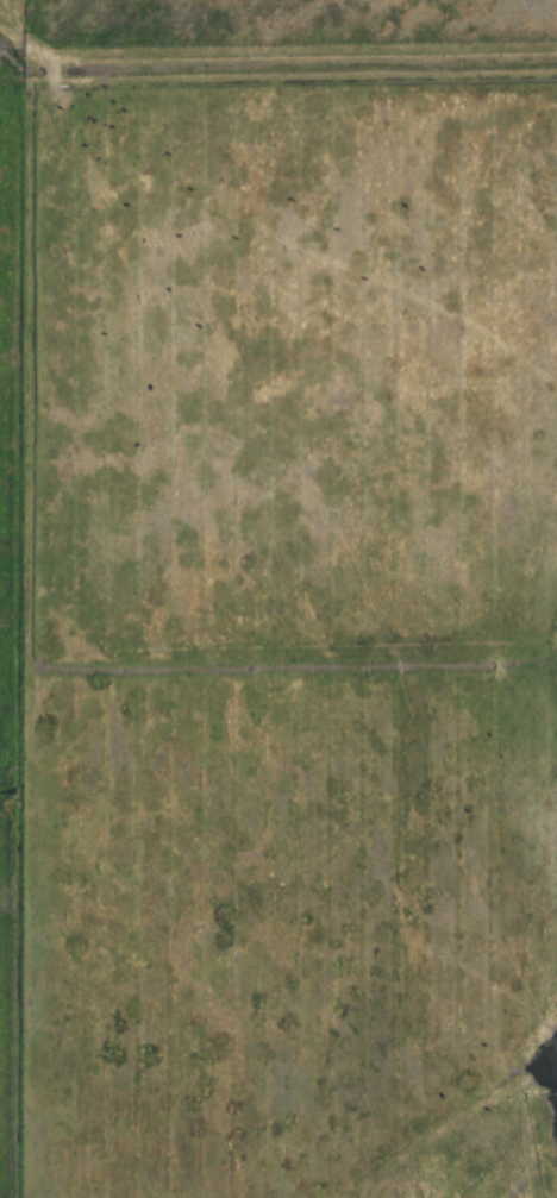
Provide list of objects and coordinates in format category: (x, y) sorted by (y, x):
crop: (18, 402)
crop: (11, 997)

